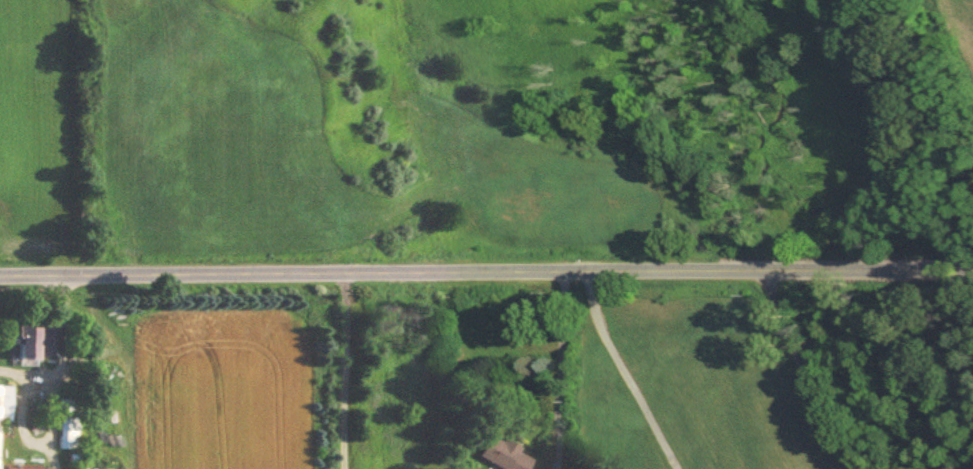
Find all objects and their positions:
road: (486, 270)
building: (34, 343)
road: (559, 363)
road: (343, 369)
road: (810, 369)
road: (618, 373)
road: (50, 403)
building: (4, 404)
building: (69, 425)
building: (499, 455)

